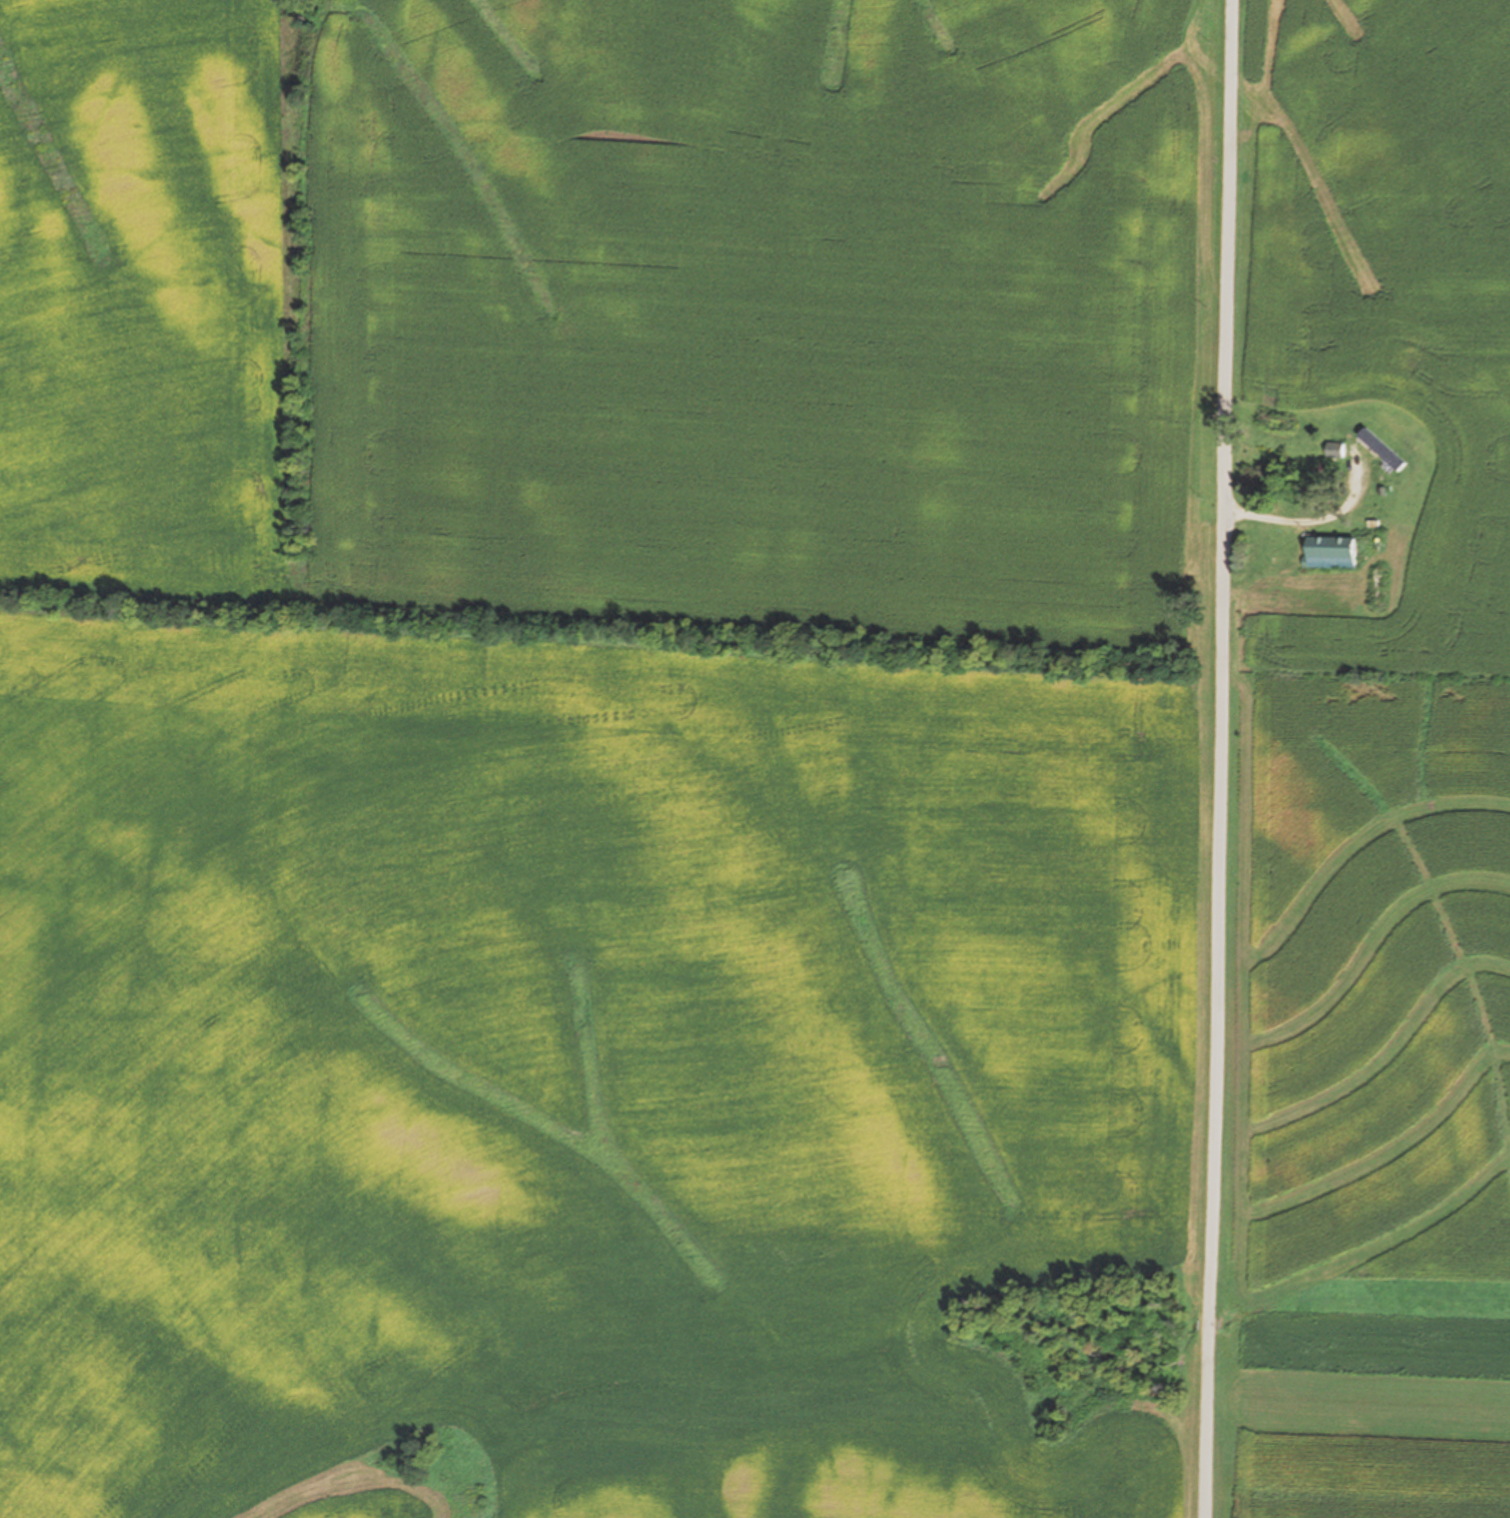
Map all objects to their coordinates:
building: (1324, 473)
building: (1286, 548)
building: (1337, 553)
road: (1220, 759)

